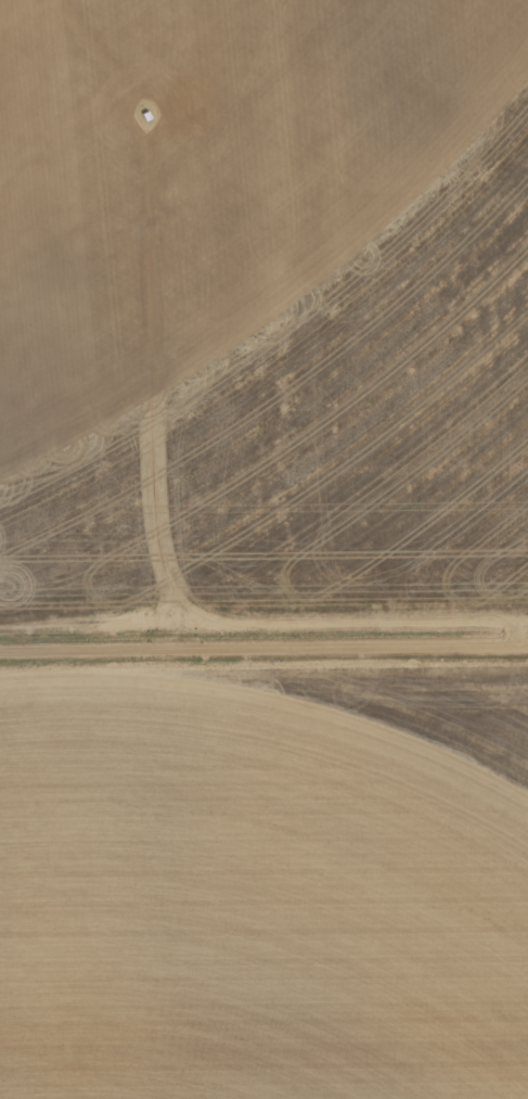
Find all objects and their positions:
road: (263, 644)
crop: (243, 957)

